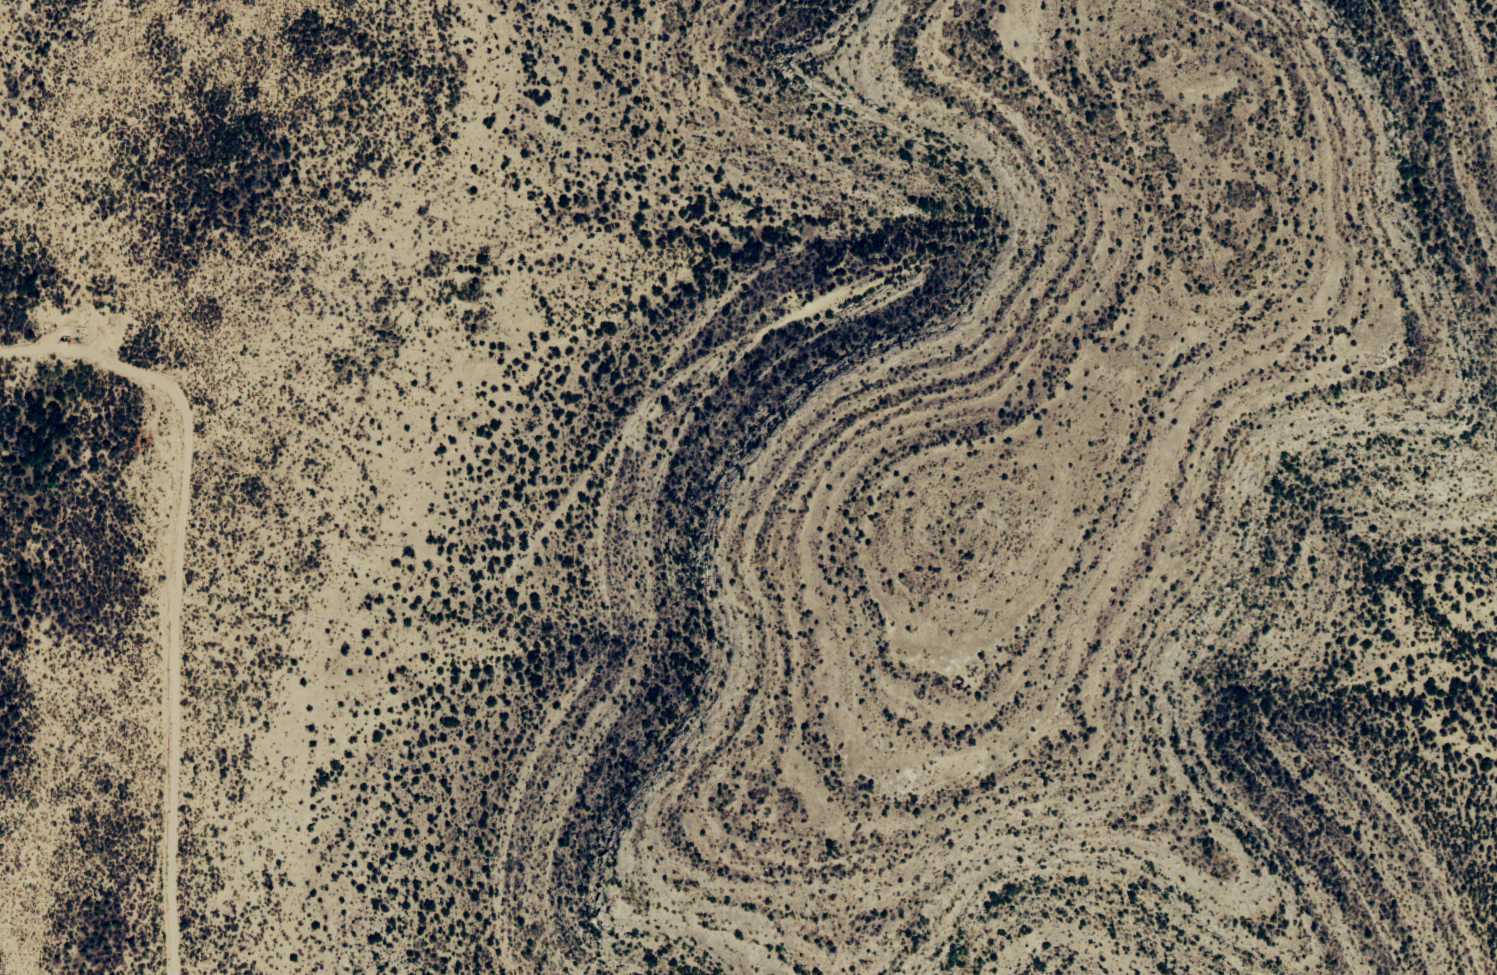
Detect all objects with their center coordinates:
road: (198, 585)

